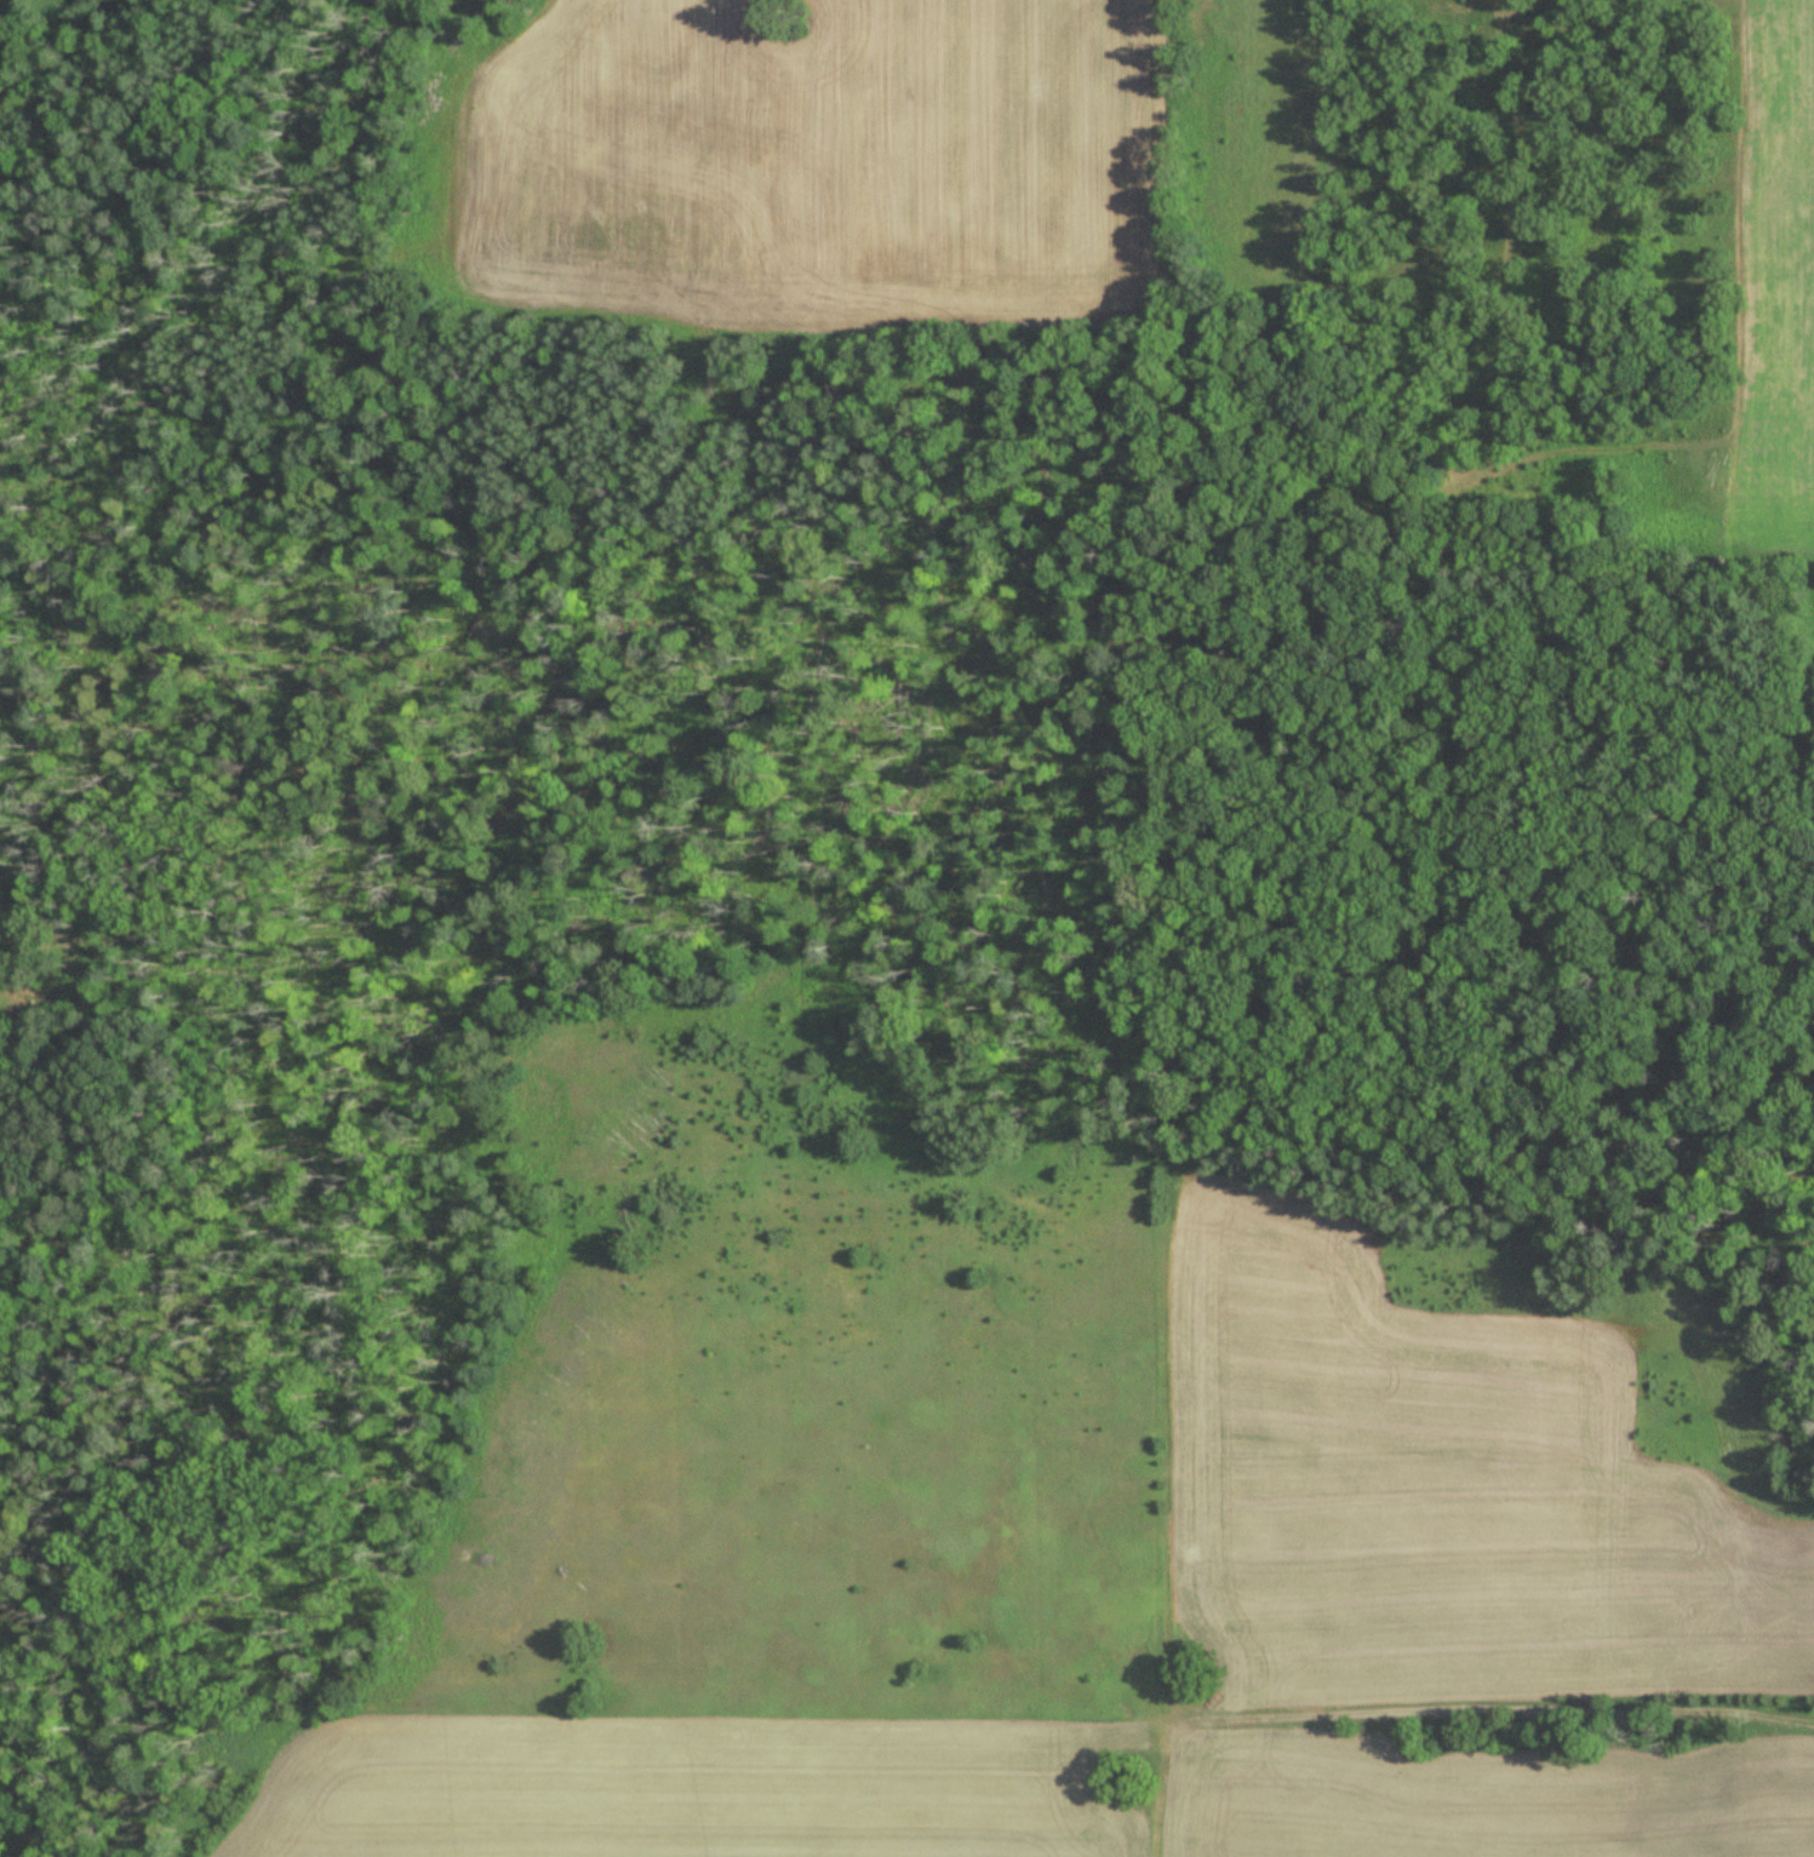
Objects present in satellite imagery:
road: (1795, 1718)

